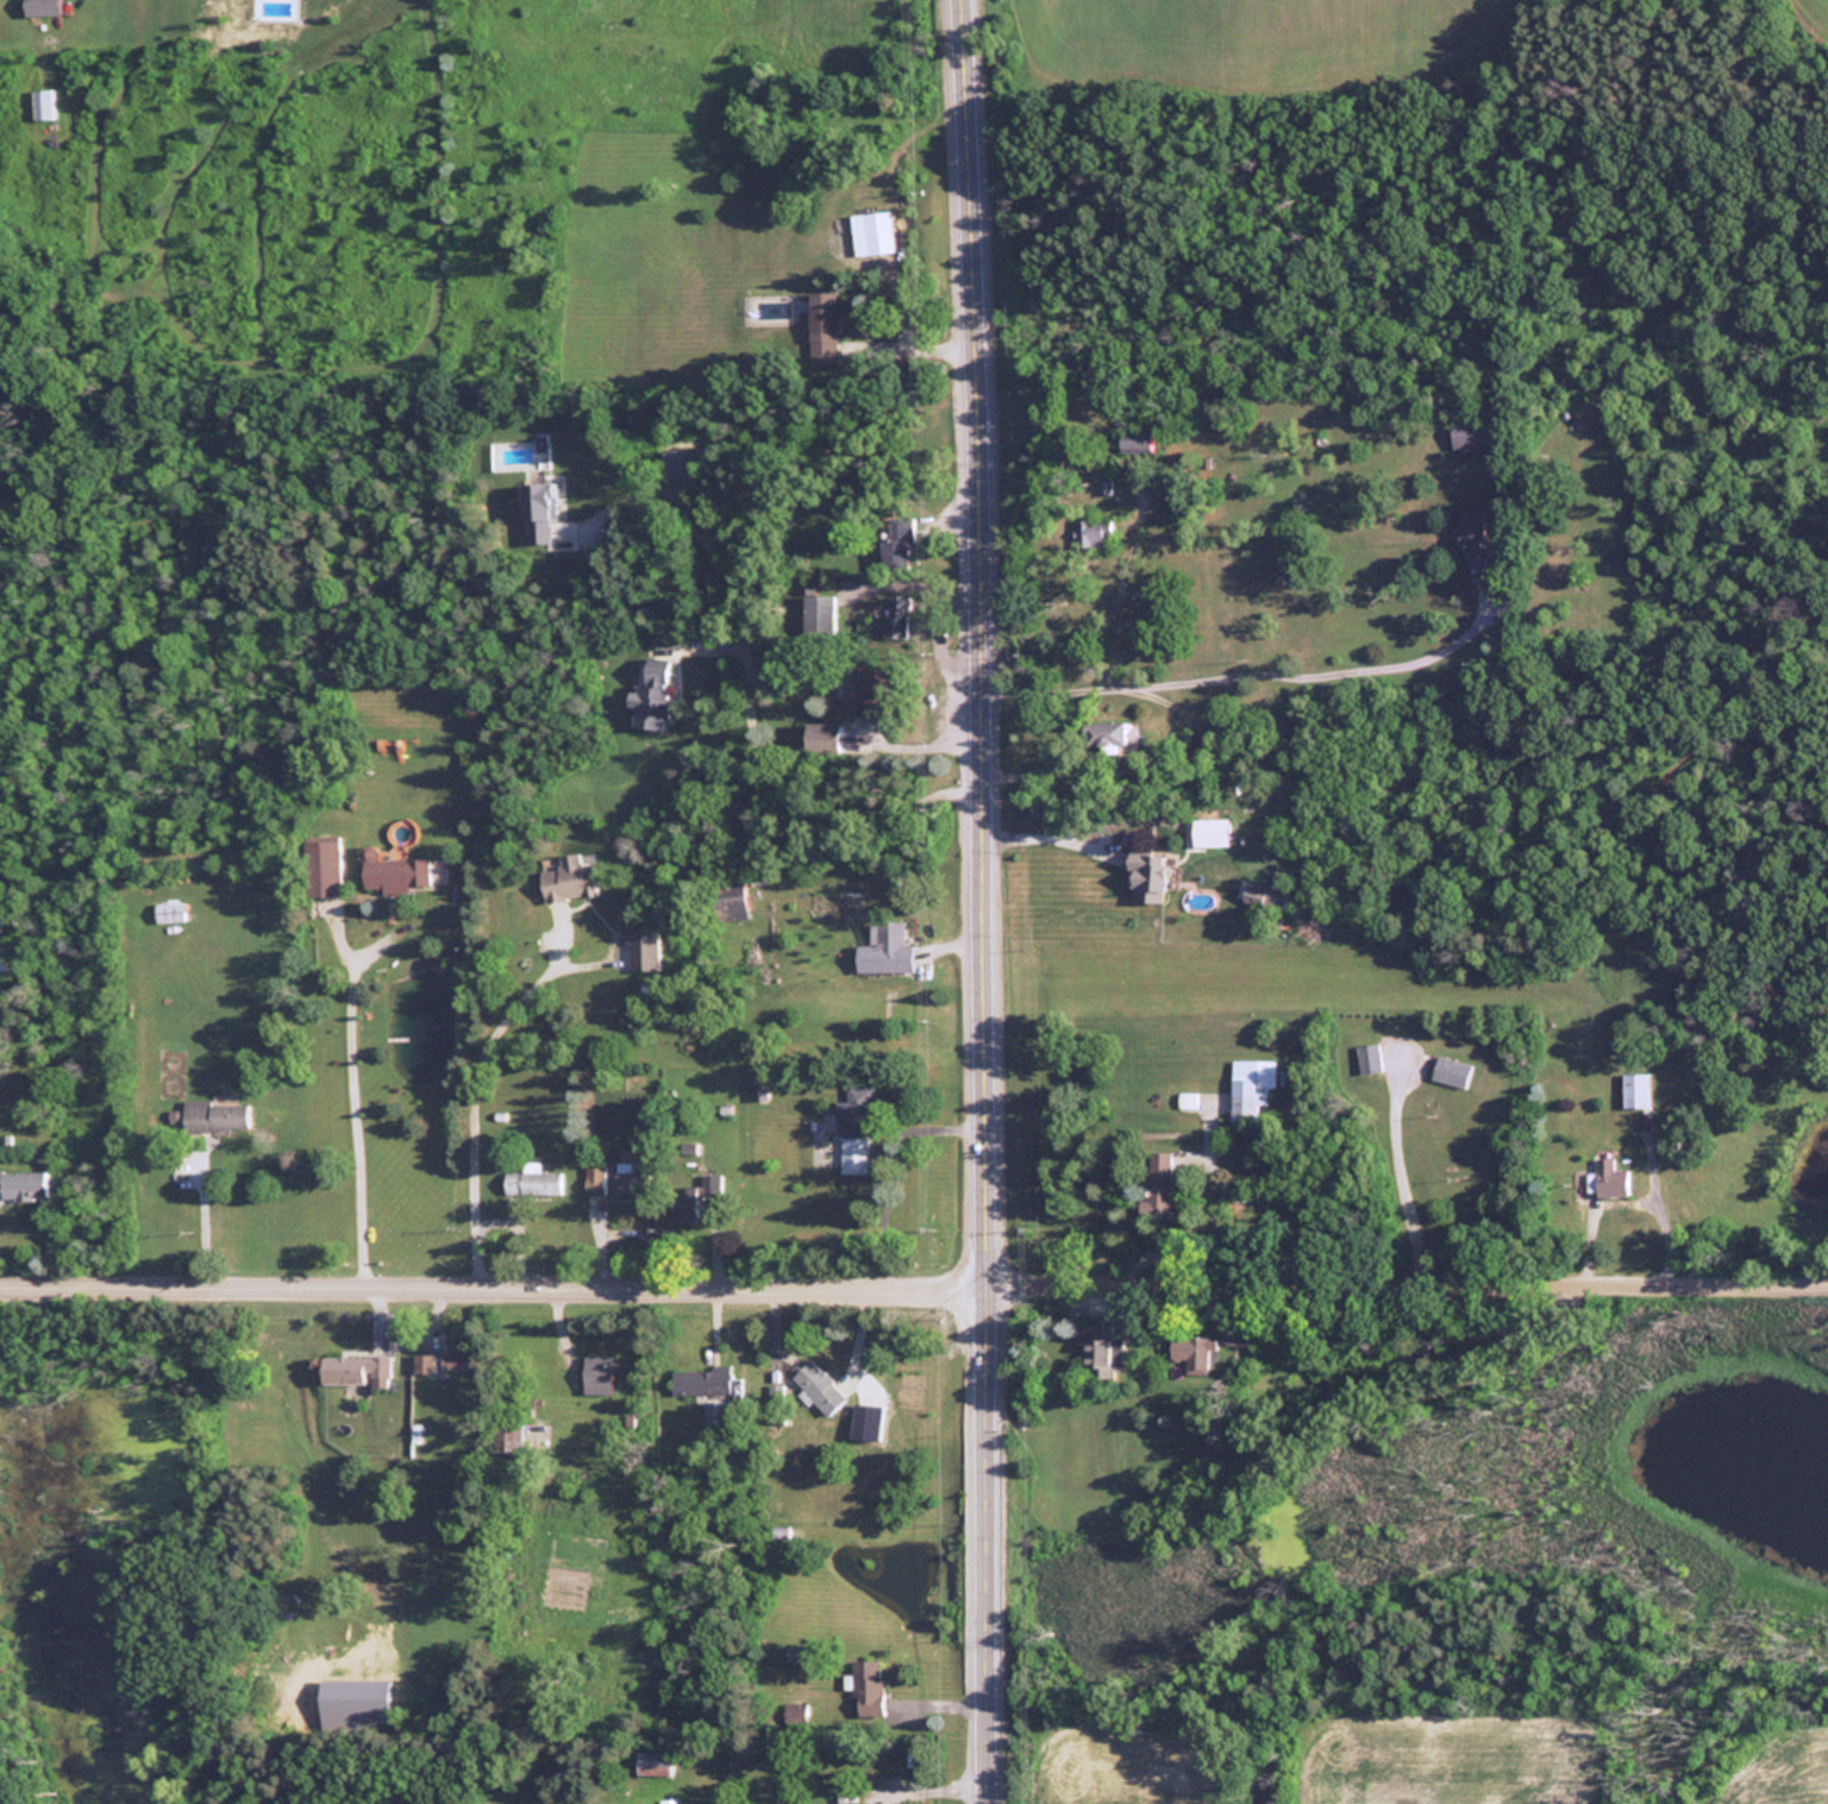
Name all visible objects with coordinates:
building: (39, 7)
building: (42, 102)
building: (872, 231)
building: (824, 325)
building: (1467, 436)
building: (1132, 441)
building: (683, 462)
building: (538, 509)
building: (1091, 532)
building: (1475, 537)
building: (895, 540)
road: (916, 584)
building: (820, 610)
building: (896, 615)
road: (938, 652)
road: (1233, 674)
building: (869, 688)
building: (653, 693)
building: (1102, 734)
building: (821, 737)
road: (920, 744)
building: (321, 867)
building: (396, 873)
building: (1145, 876)
building: (568, 878)
road: (985, 901)
building: (169, 912)
building: (885, 948)
building: (644, 950)
building: (1367, 1057)
building: (1450, 1070)
building: (1251, 1088)
building: (1634, 1090)
building: (1187, 1100)
road: (465, 1104)
building: (215, 1115)
road: (346, 1122)
building: (853, 1128)
building: (594, 1178)
building: (1158, 1178)
building: (1608, 1178)
building: (533, 1182)
building: (625, 1182)
building: (23, 1183)
building: (683, 1209)
road: (914, 1286)
building: (1096, 1335)
building: (1191, 1353)
building: (446, 1363)
building: (353, 1370)
building: (599, 1374)
building: (818, 1388)
building: (705, 1390)
building: (512, 1437)
building: (865, 1689)
building: (653, 1764)

